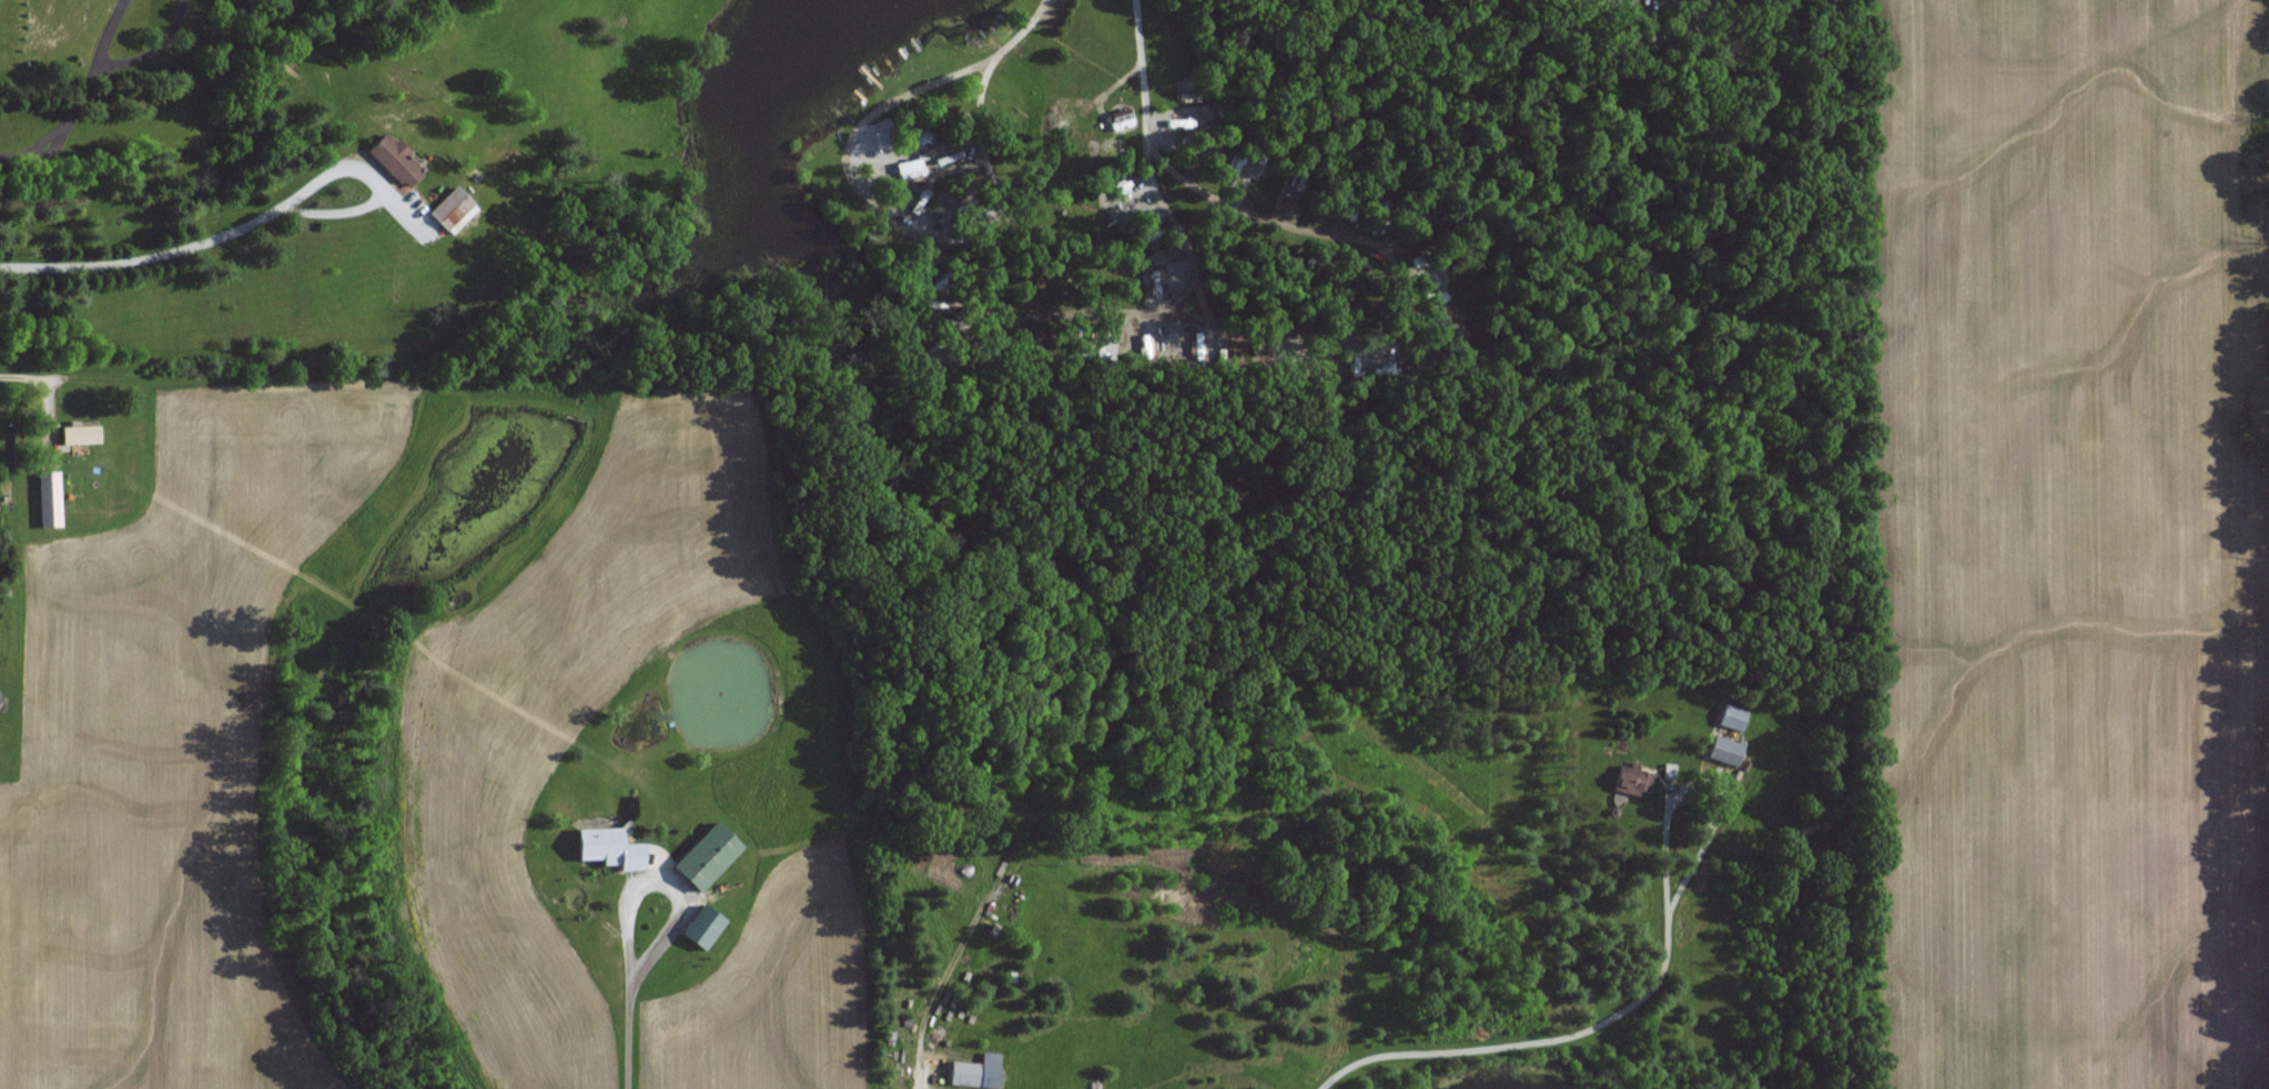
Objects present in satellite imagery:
road: (81, 98)
building: (396, 162)
building: (456, 207)
road: (172, 247)
road: (20, 381)
building: (81, 435)
building: (50, 499)
building: (0, 690)
building: (1734, 717)
building: (1726, 750)
building: (1670, 770)
building: (1635, 783)
building: (610, 846)
building: (708, 854)
building: (939, 873)
building: (1013, 905)
building: (703, 925)
road: (626, 1005)
road: (1593, 1026)
building: (978, 1071)
road: (924, 1076)

